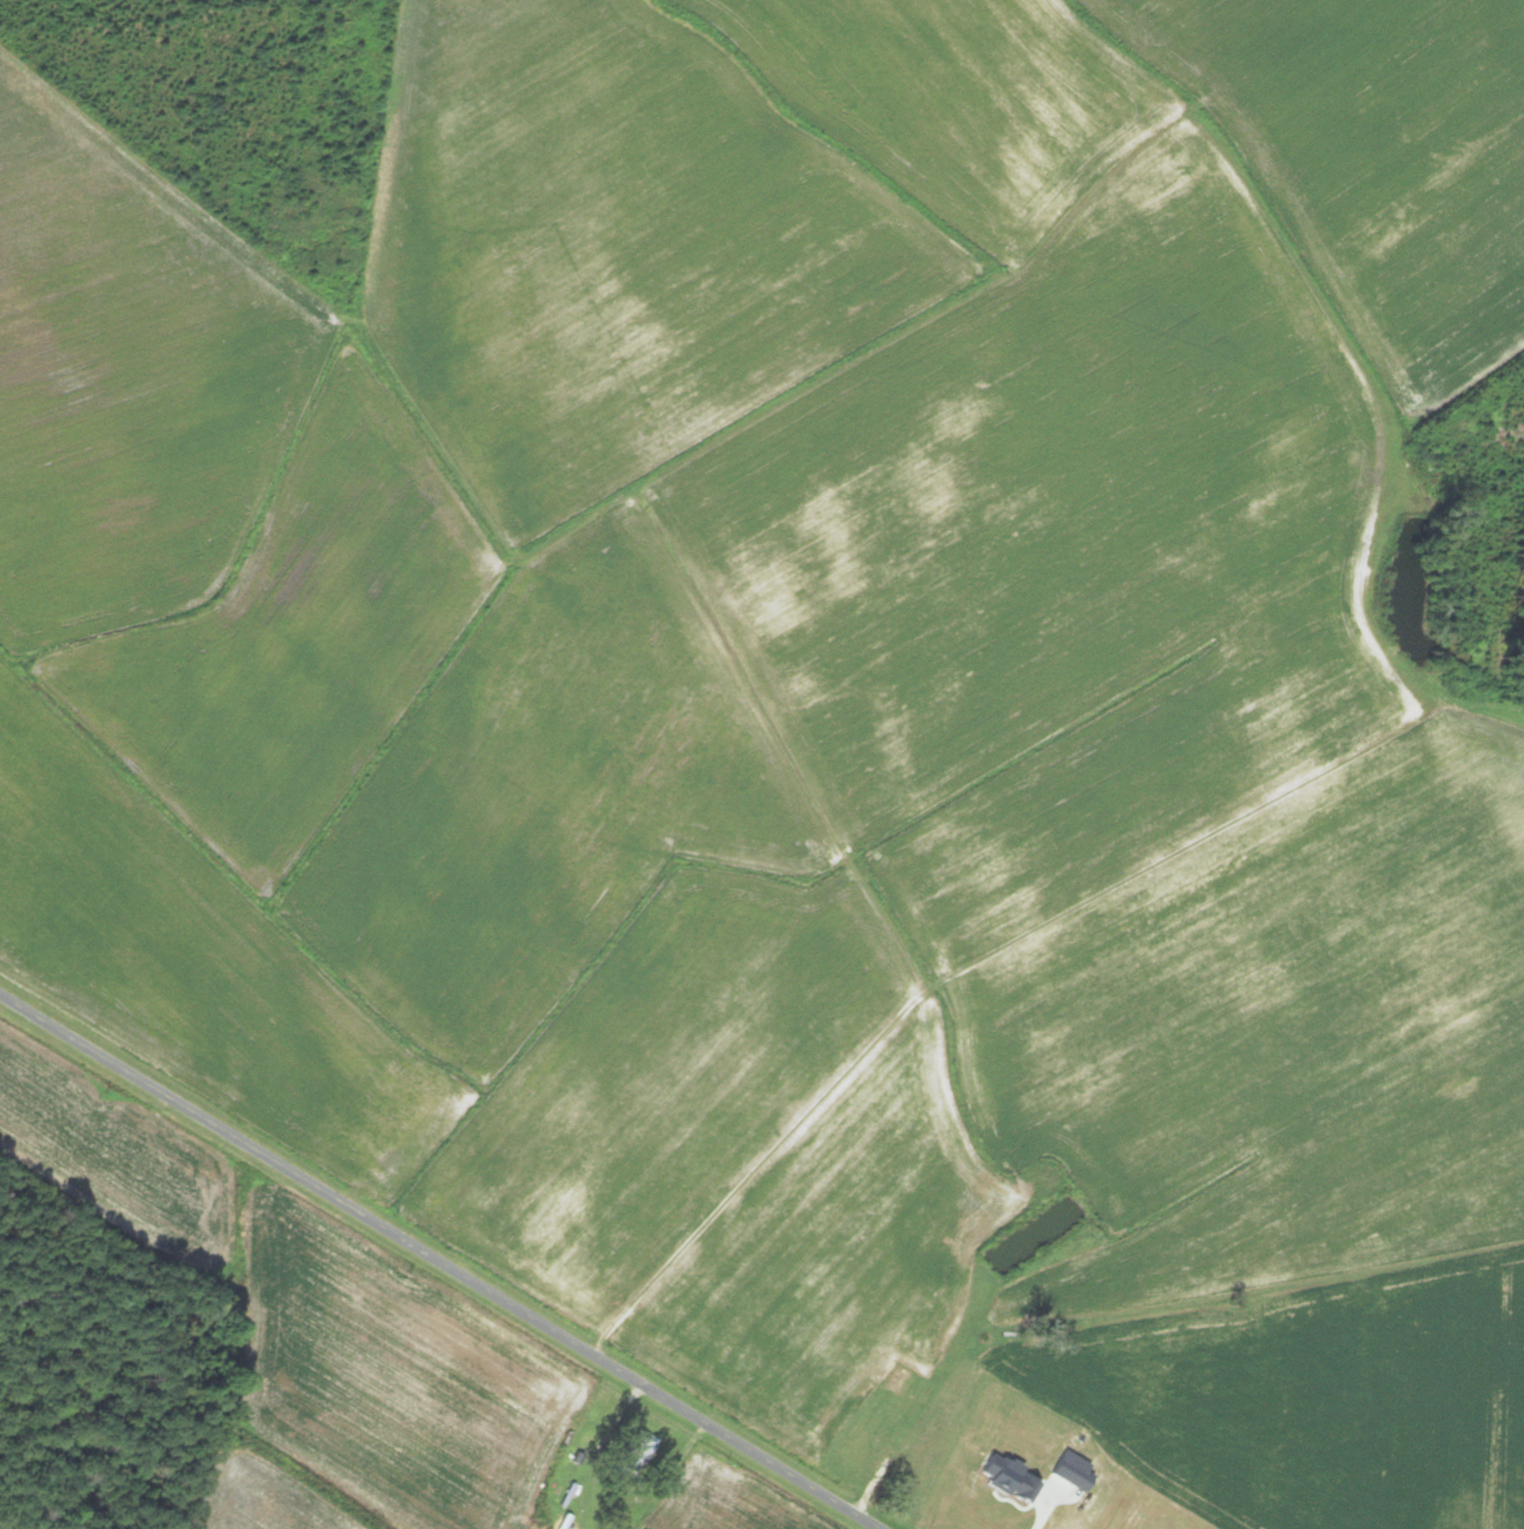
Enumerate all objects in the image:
road: (431, 1266)
building: (892, 1380)
building: (640, 1452)
building: (564, 1523)

